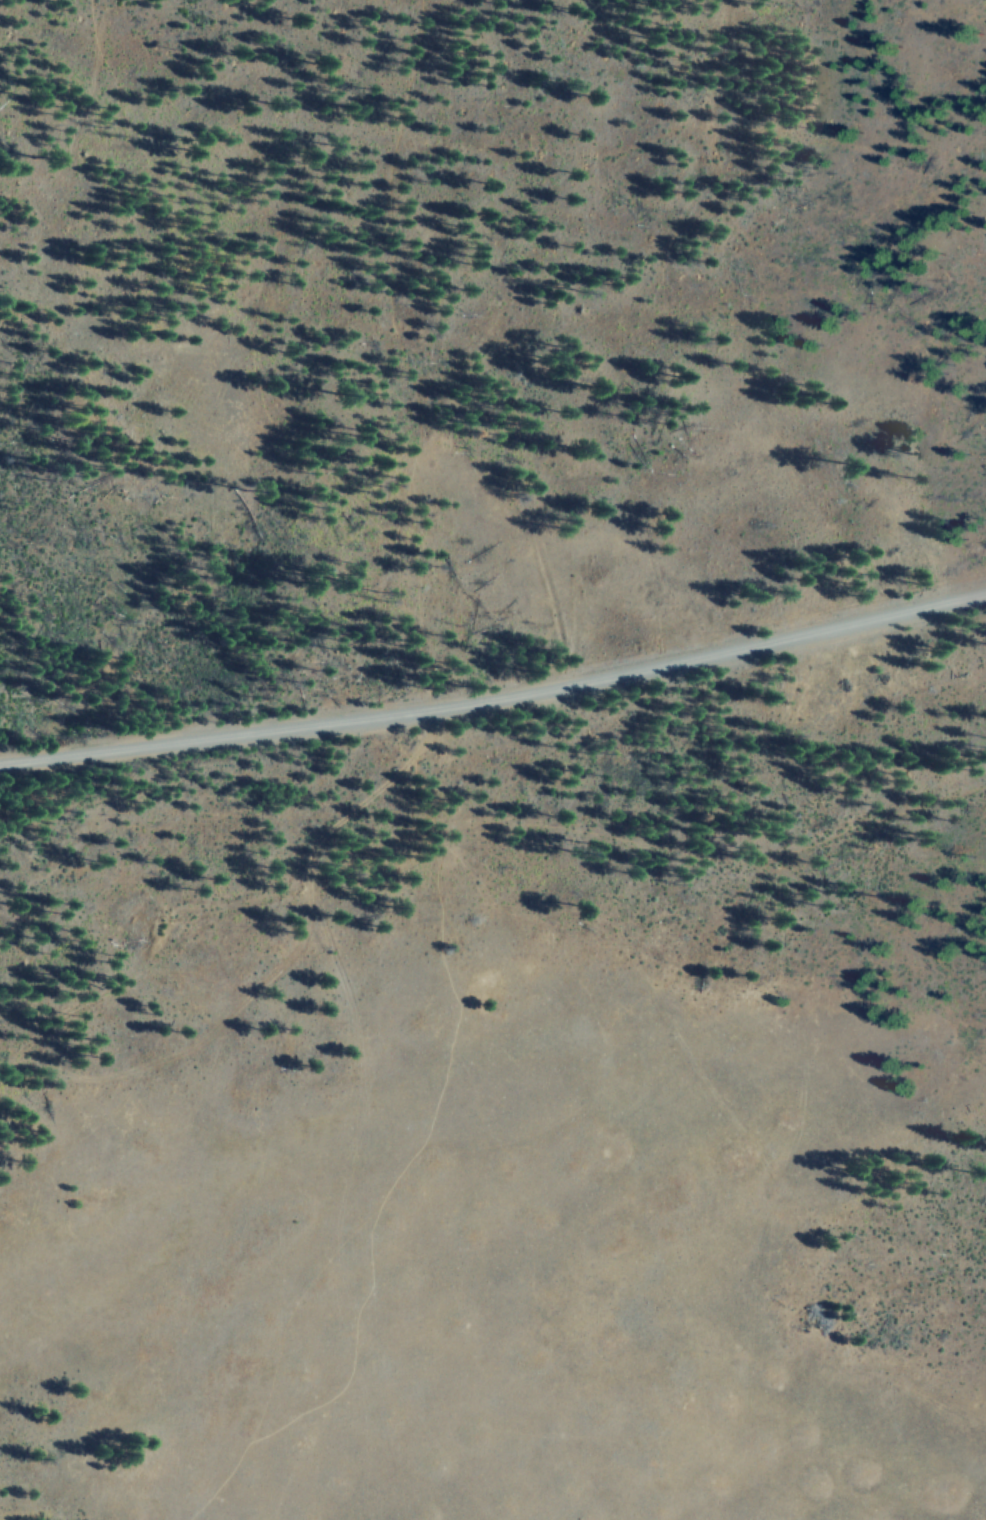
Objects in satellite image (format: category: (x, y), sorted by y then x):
road: (495, 697)

